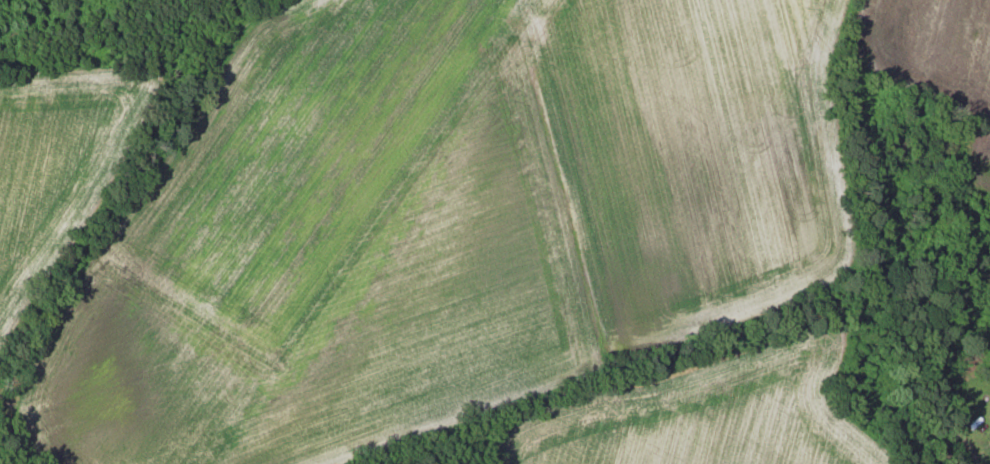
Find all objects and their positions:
building: (989, 411)

